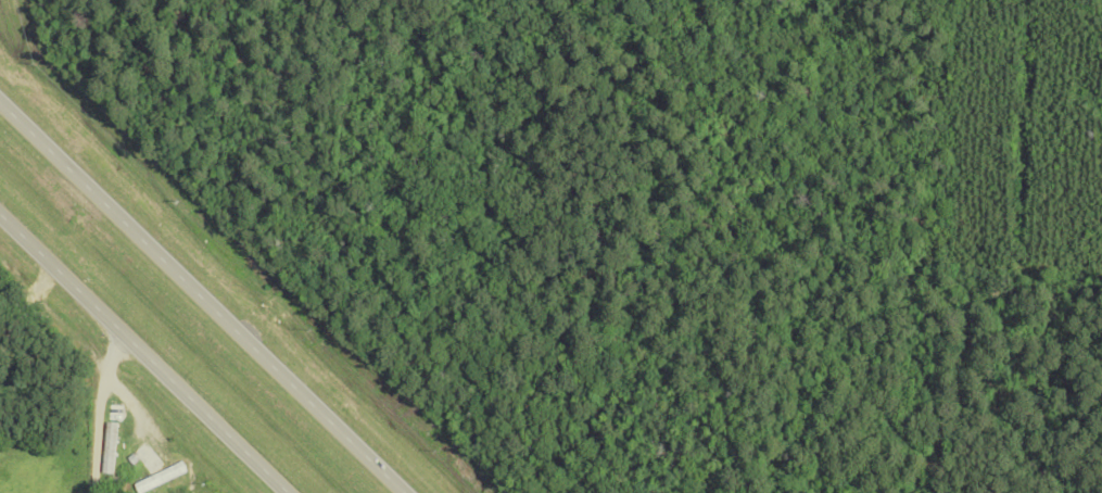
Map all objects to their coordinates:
road: (202, 296)
road: (143, 353)
road: (96, 410)

